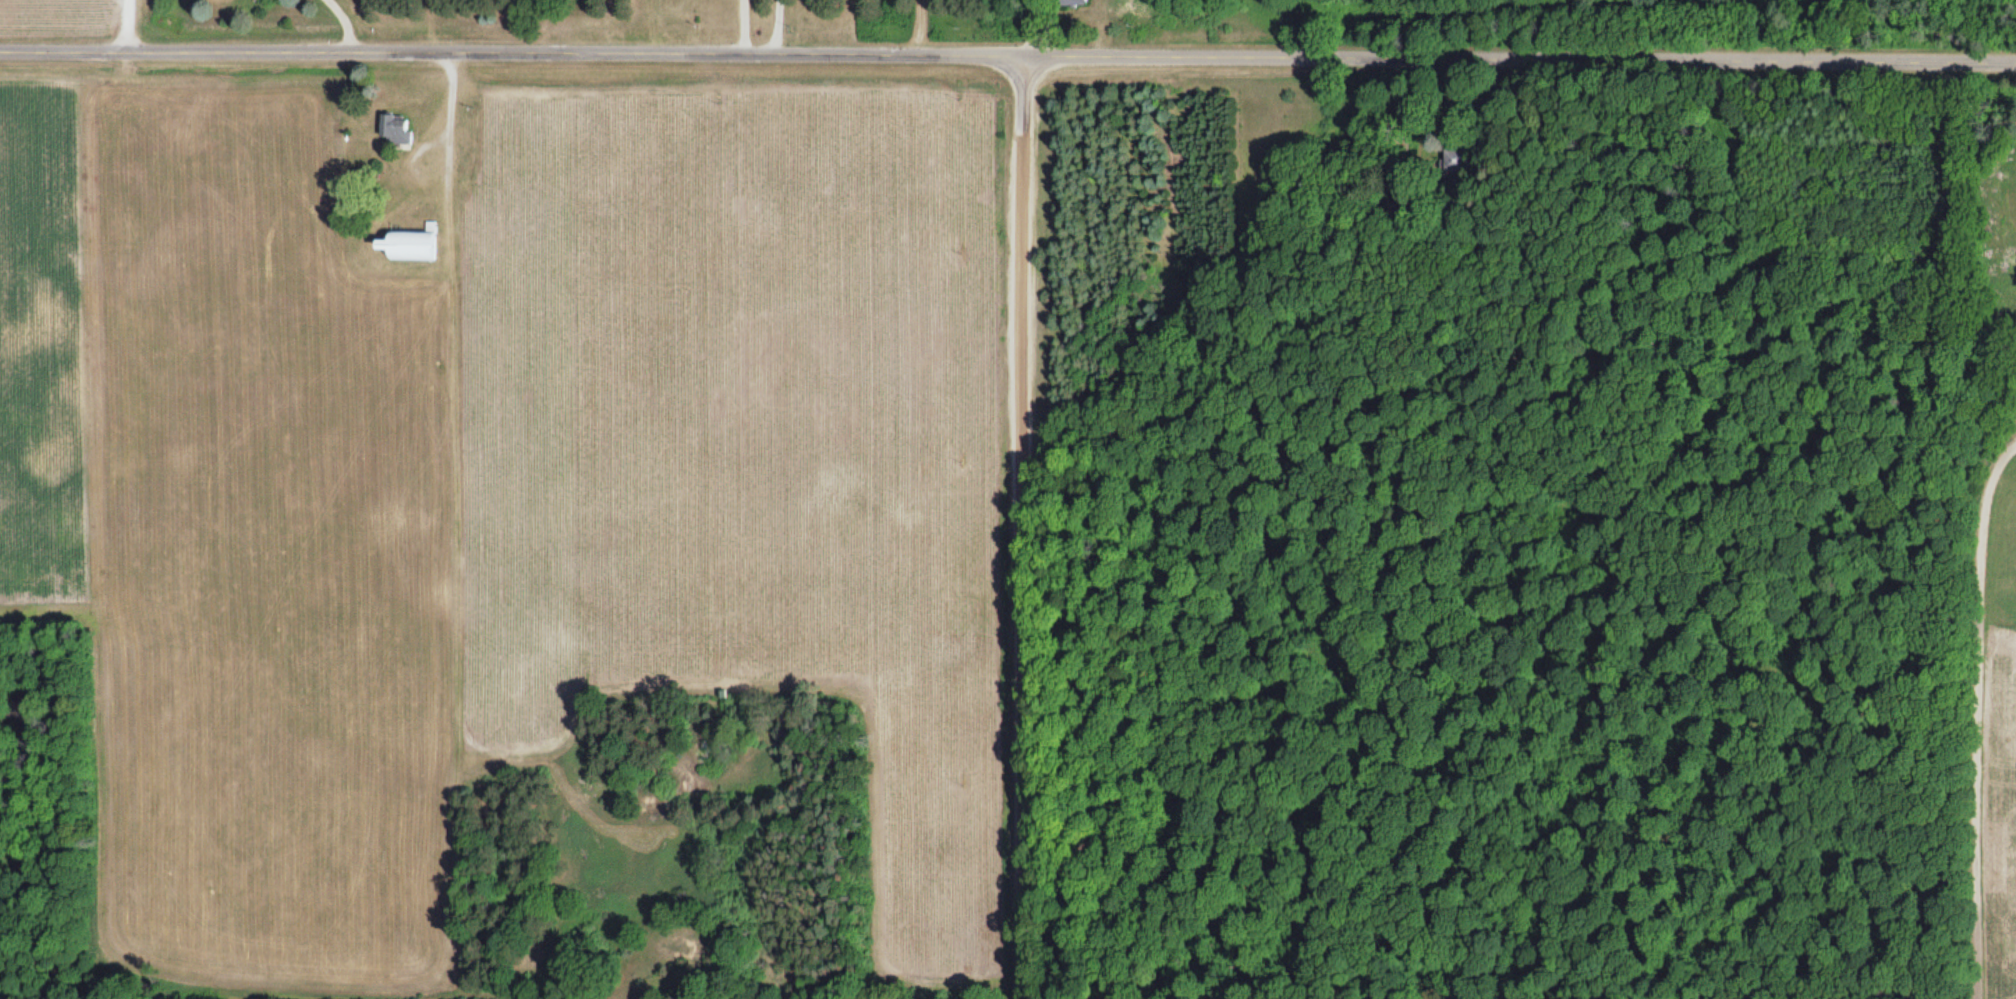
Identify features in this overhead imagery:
building: (1070, 3)
road: (772, 28)
road: (126, 29)
road: (1008, 56)
building: (397, 129)
building: (409, 245)
road: (1020, 527)

